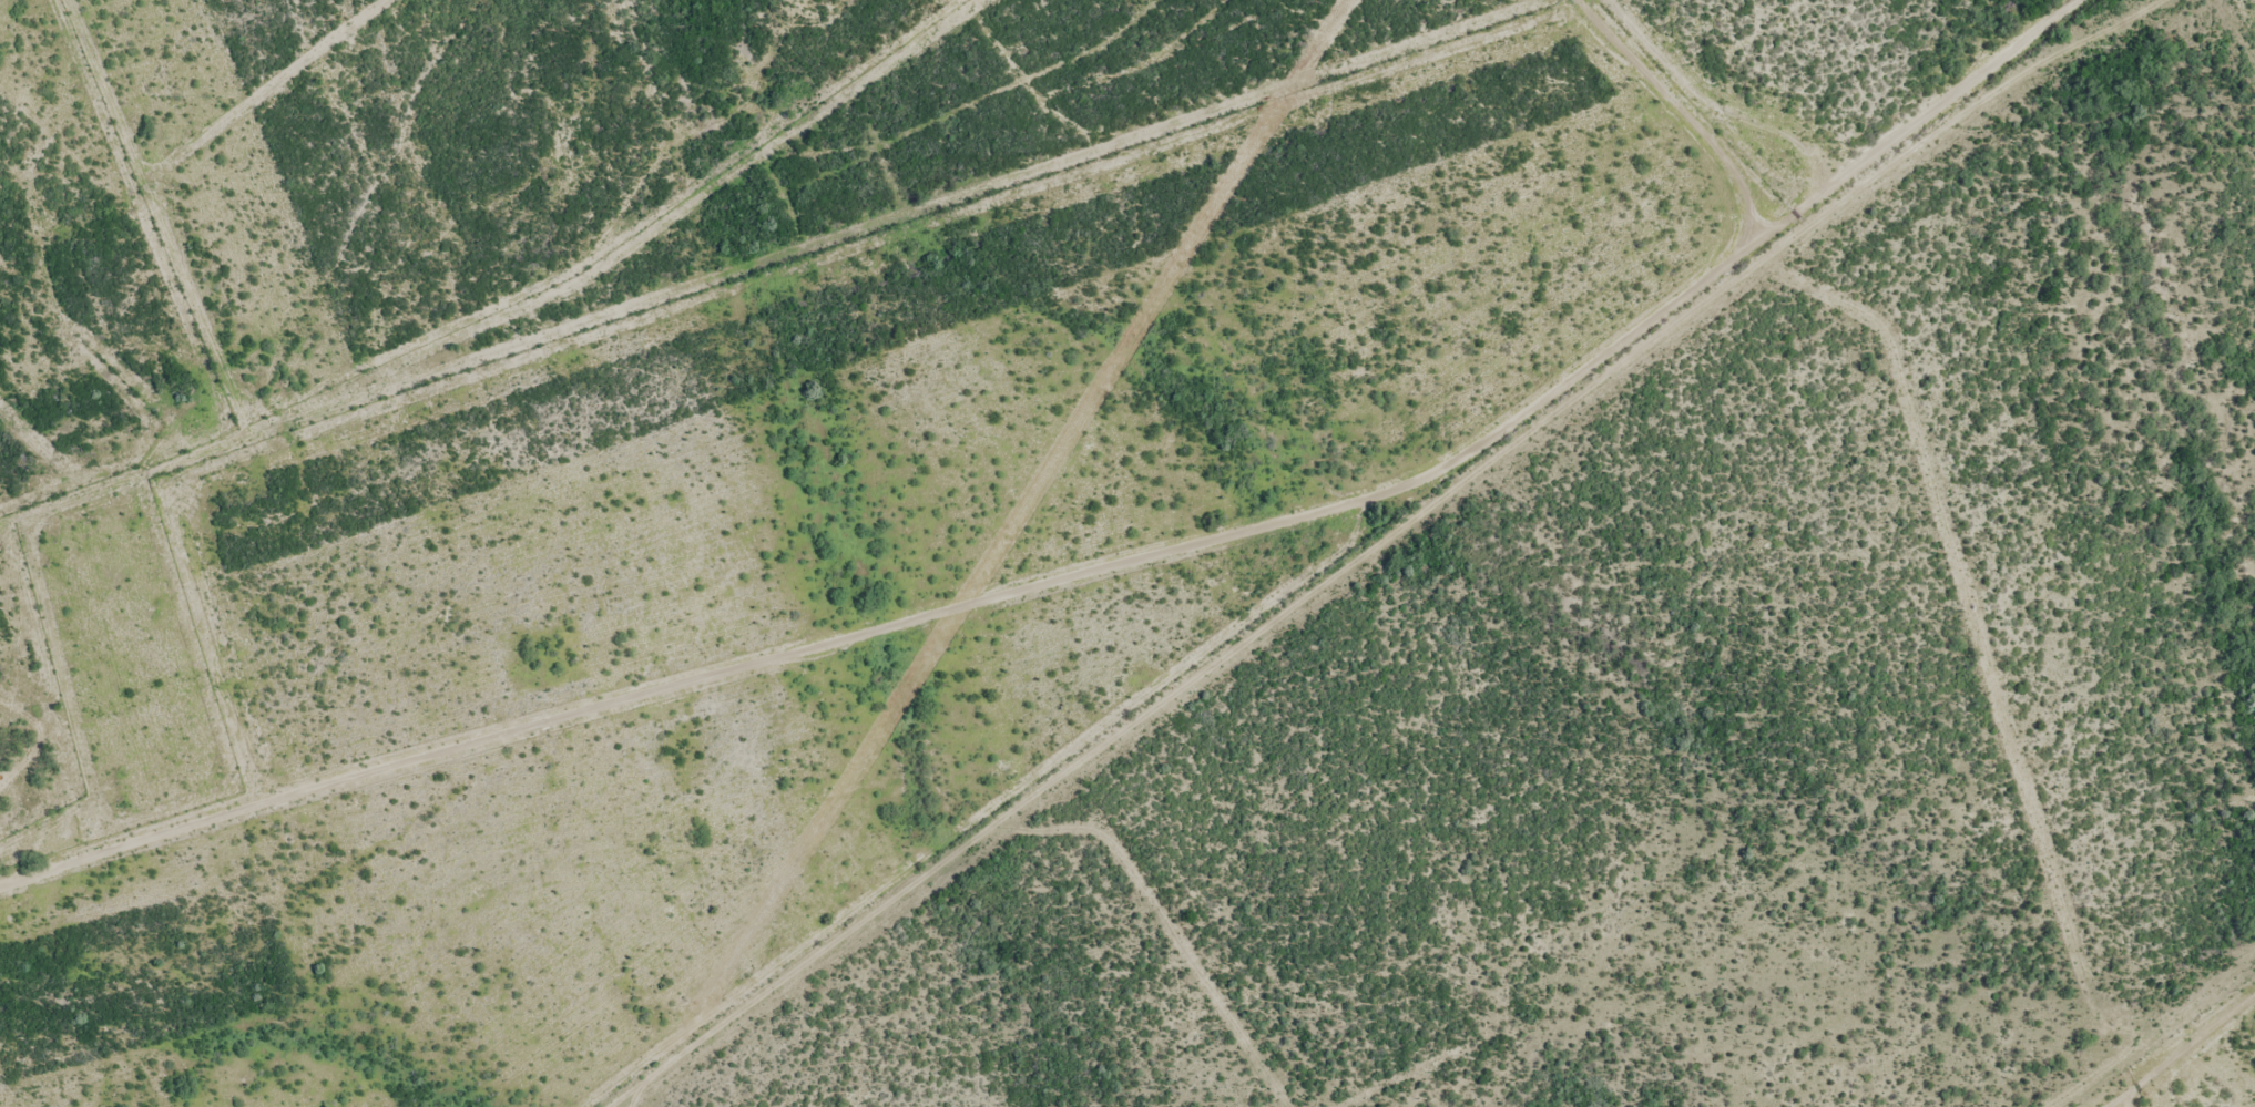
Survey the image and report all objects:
road: (1433, 537)
road: (1096, 566)

